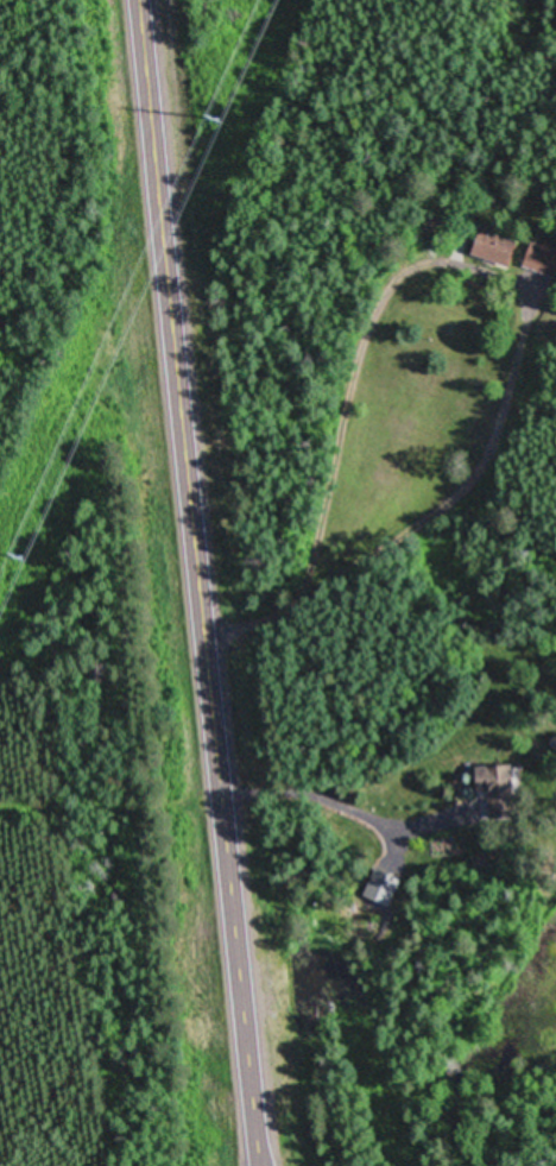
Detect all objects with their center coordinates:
power tower: (213, 118)
building: (497, 246)
building: (542, 256)
power tower: (15, 557)
road: (203, 582)
building: (383, 883)

